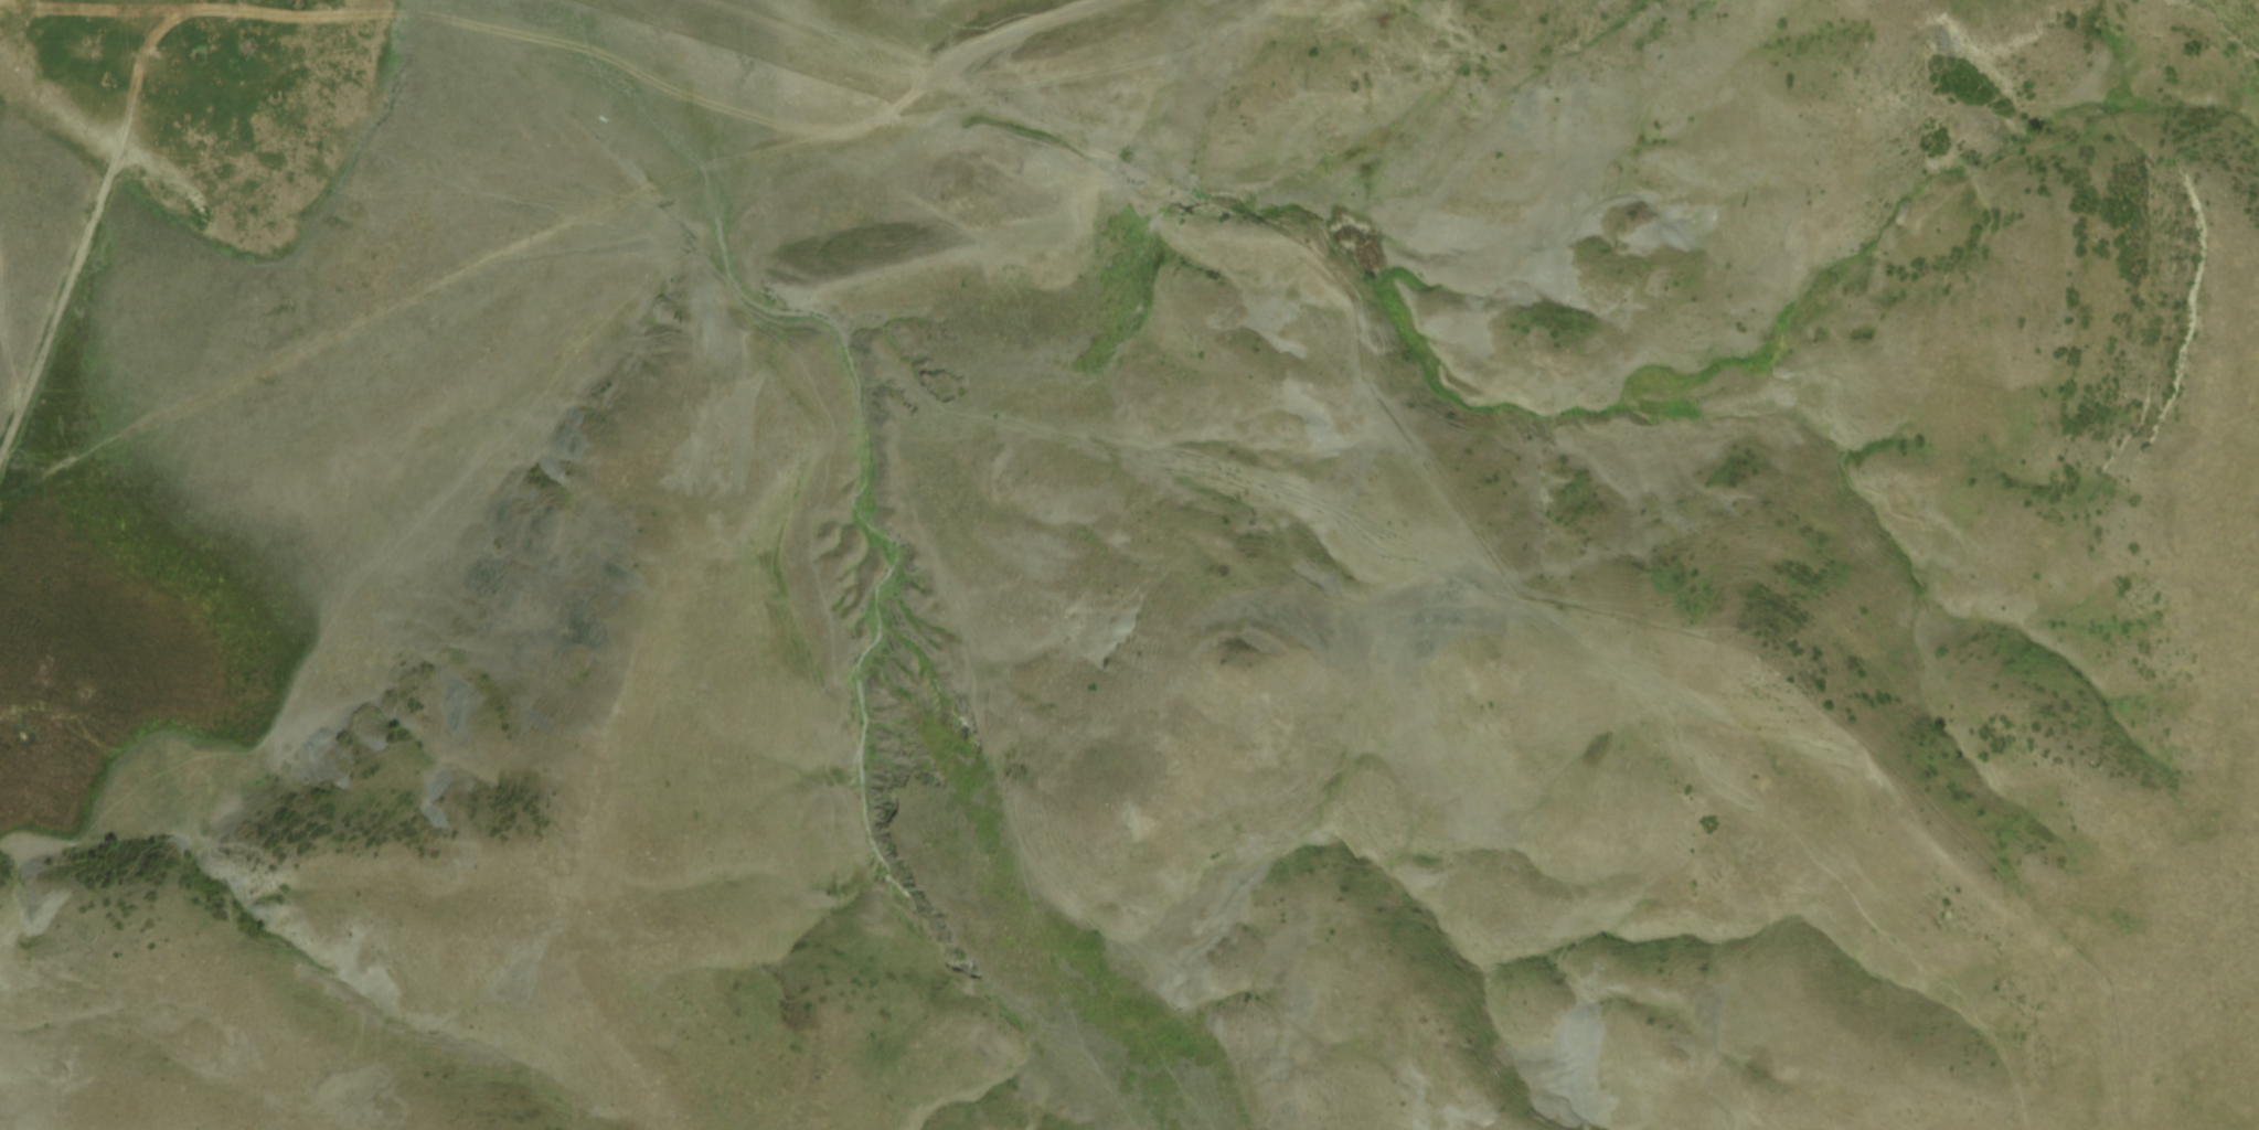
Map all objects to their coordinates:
road: (58, 300)

